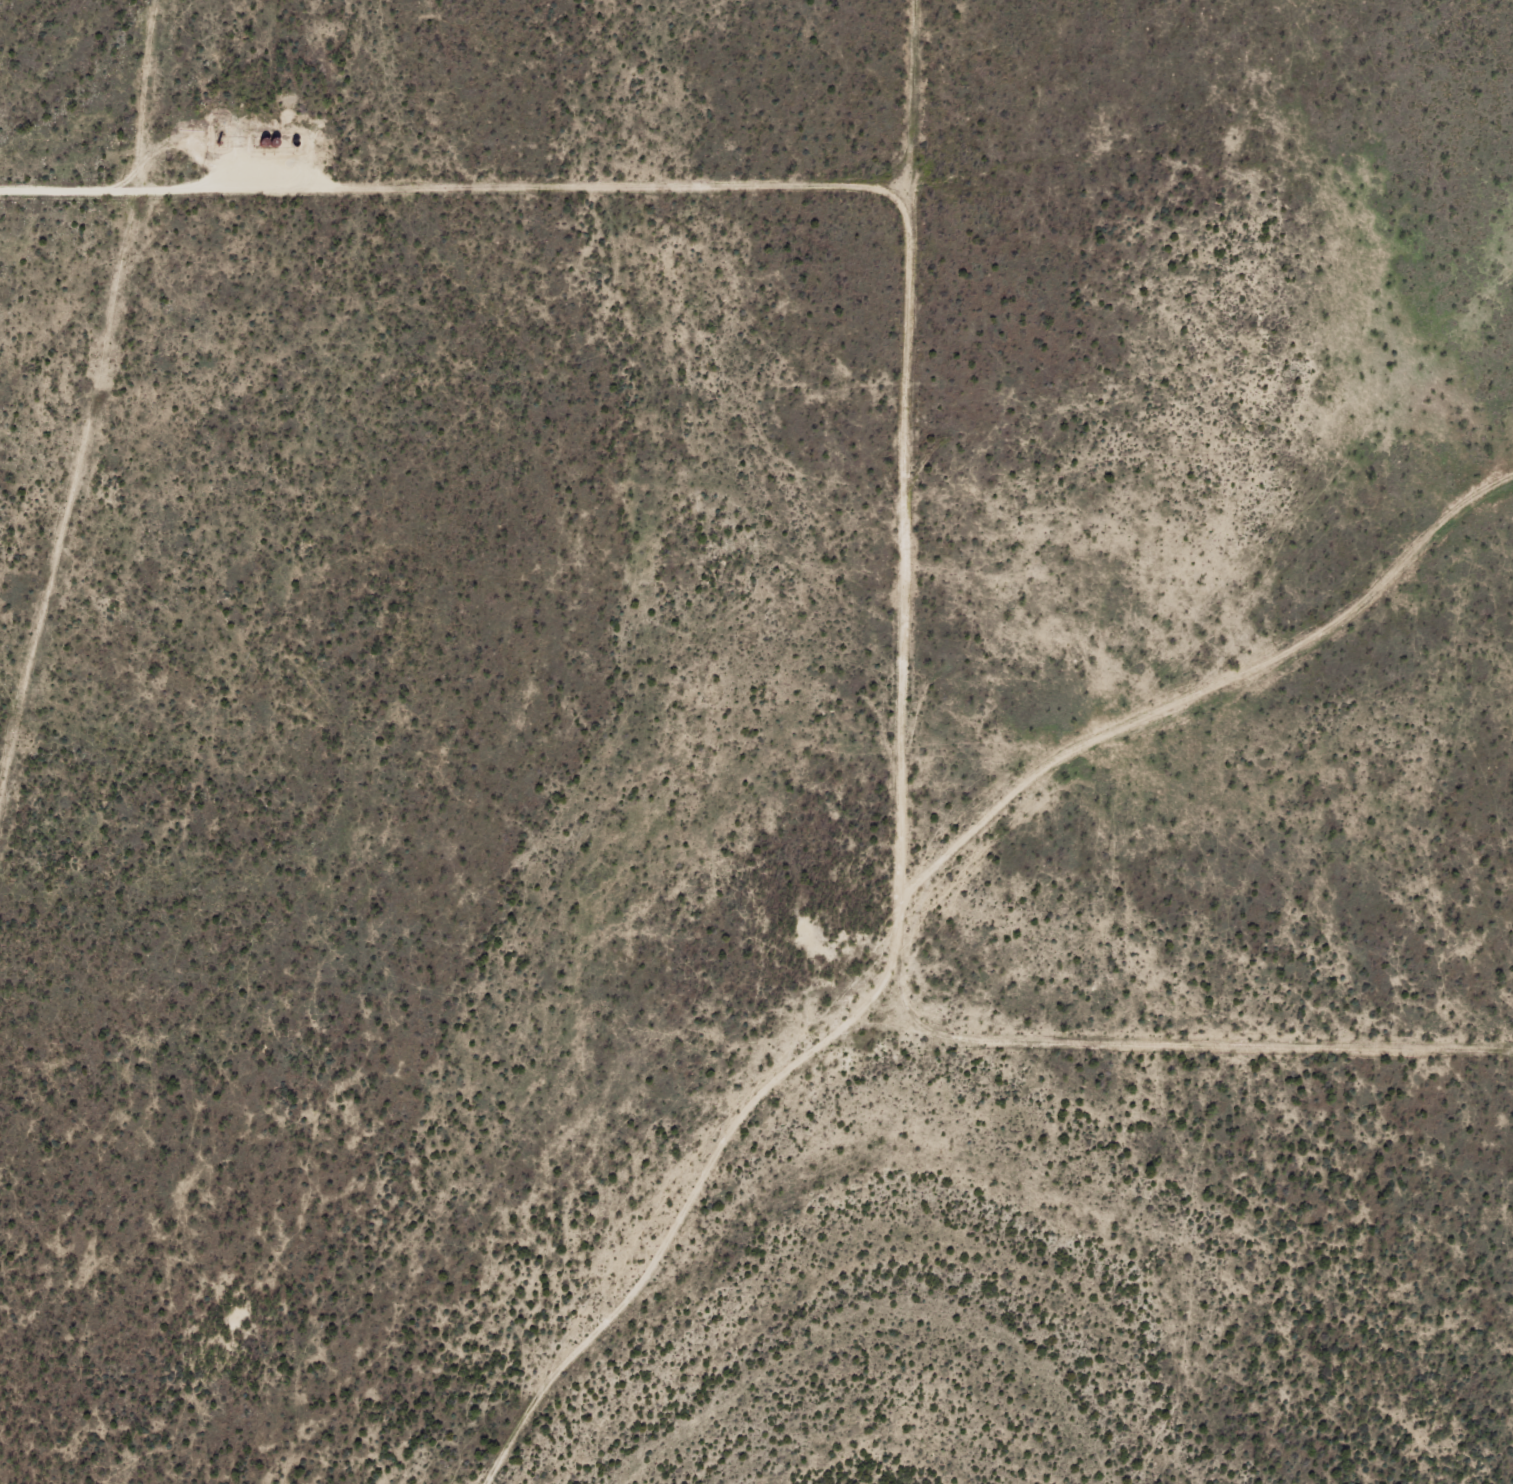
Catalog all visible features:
road: (903, 449)
road: (917, 897)

